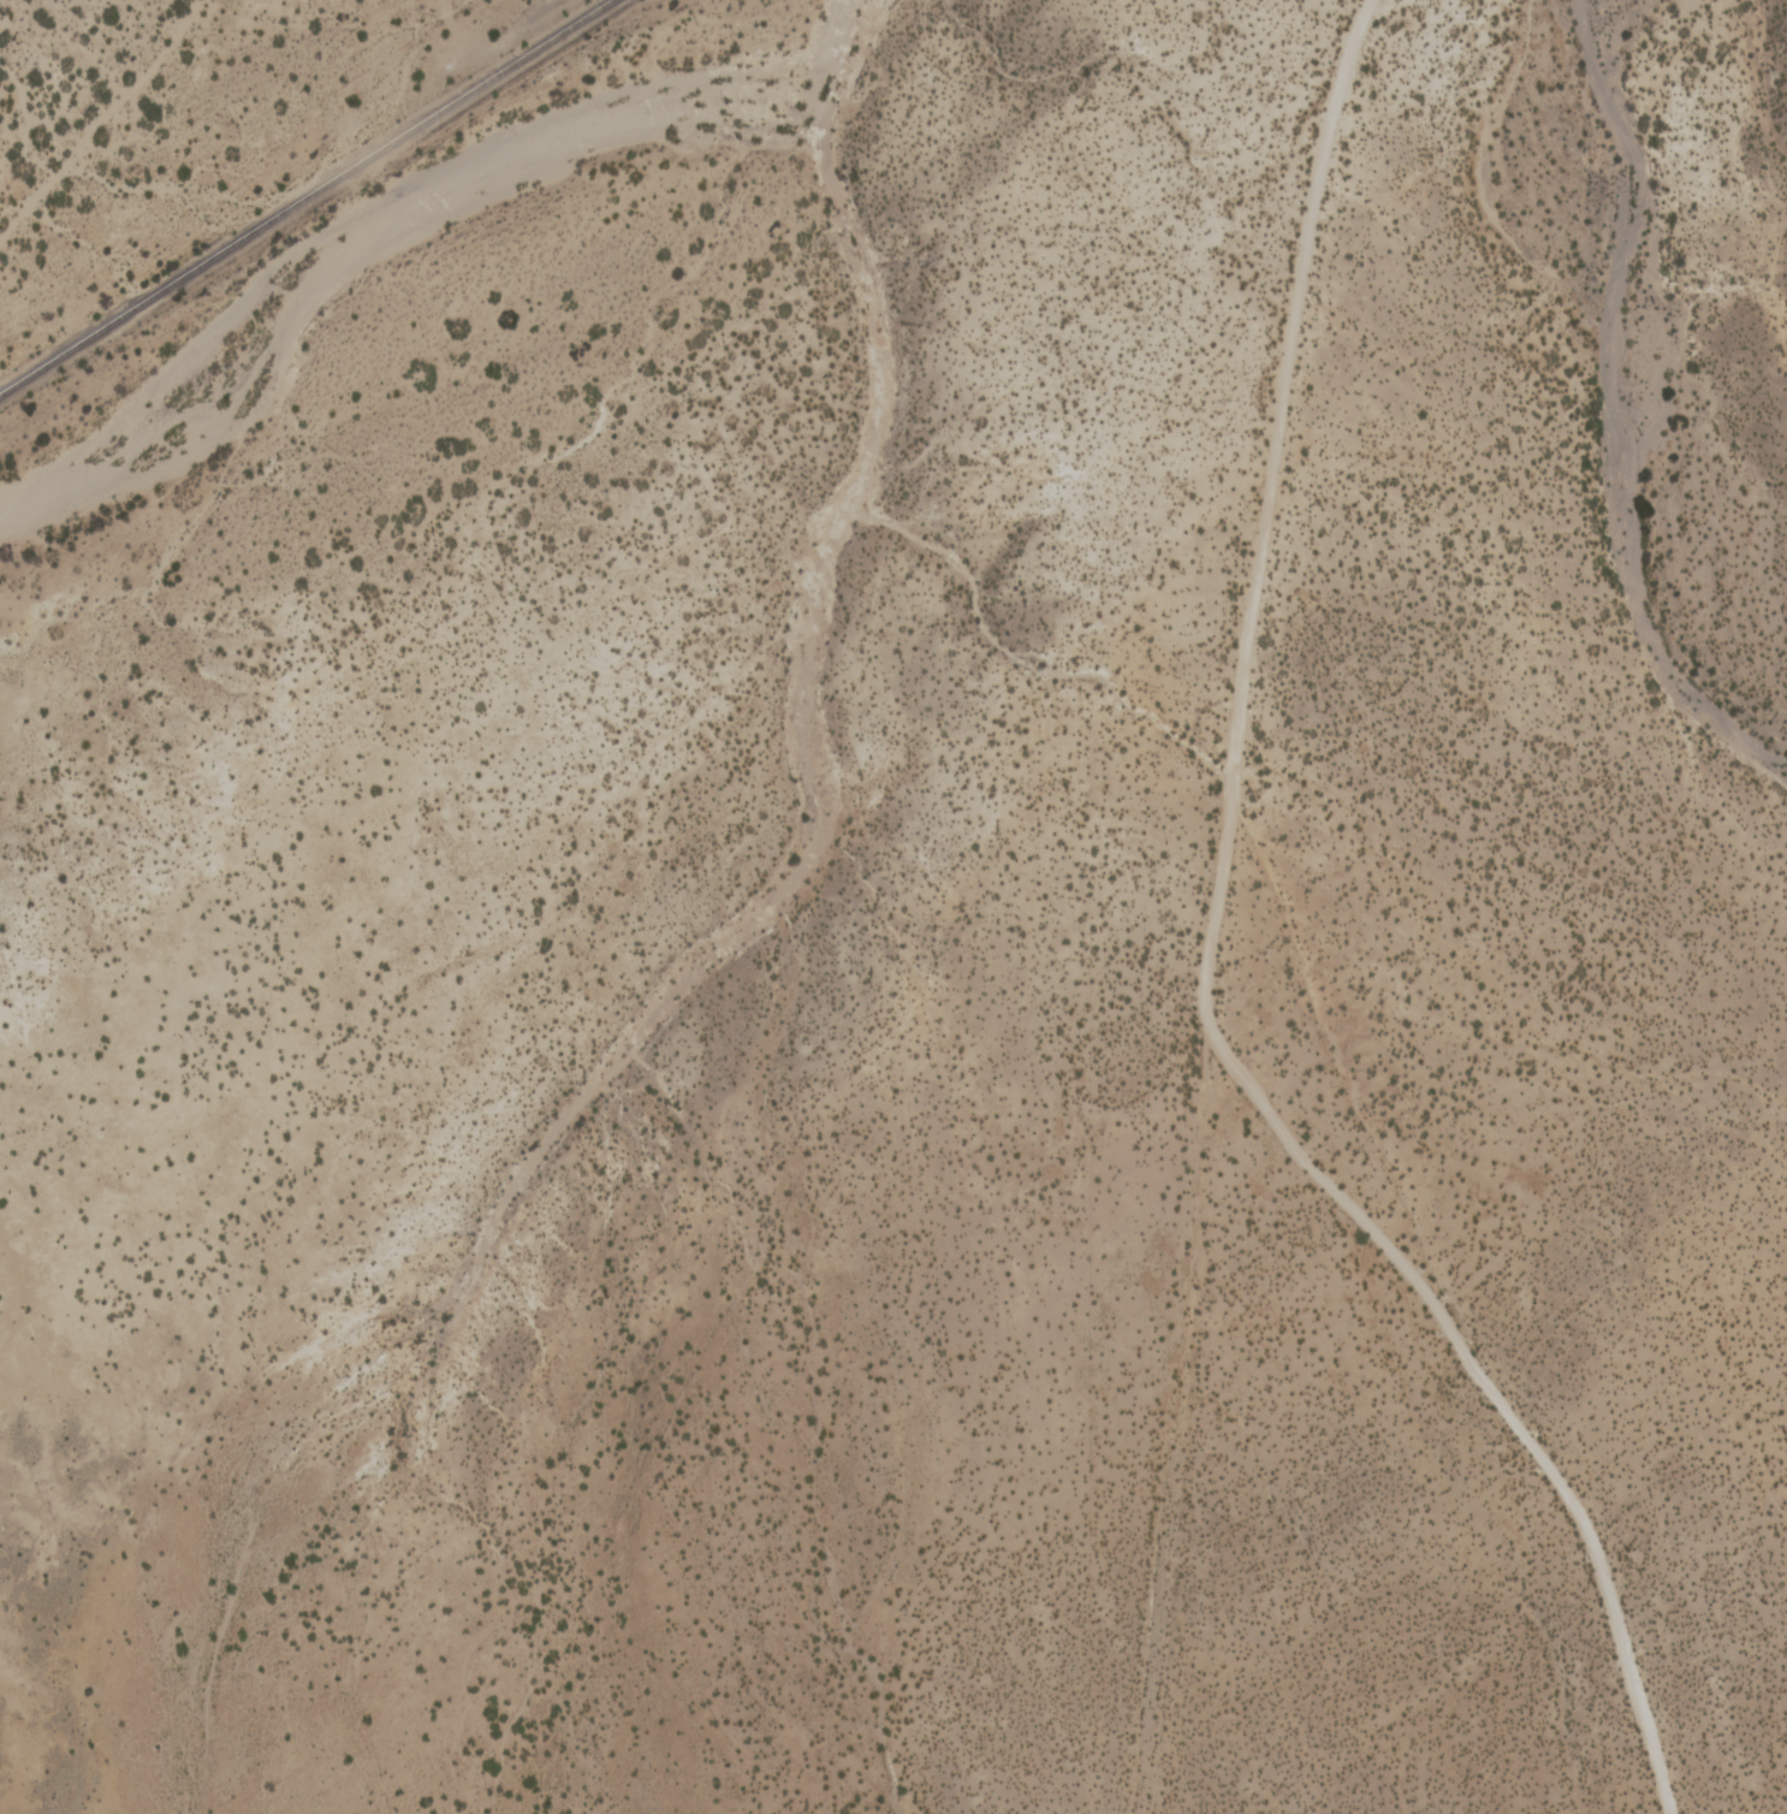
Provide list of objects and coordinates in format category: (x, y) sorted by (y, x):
railway: (304, 195)
river: (411, 207)
road: (1204, 968)

